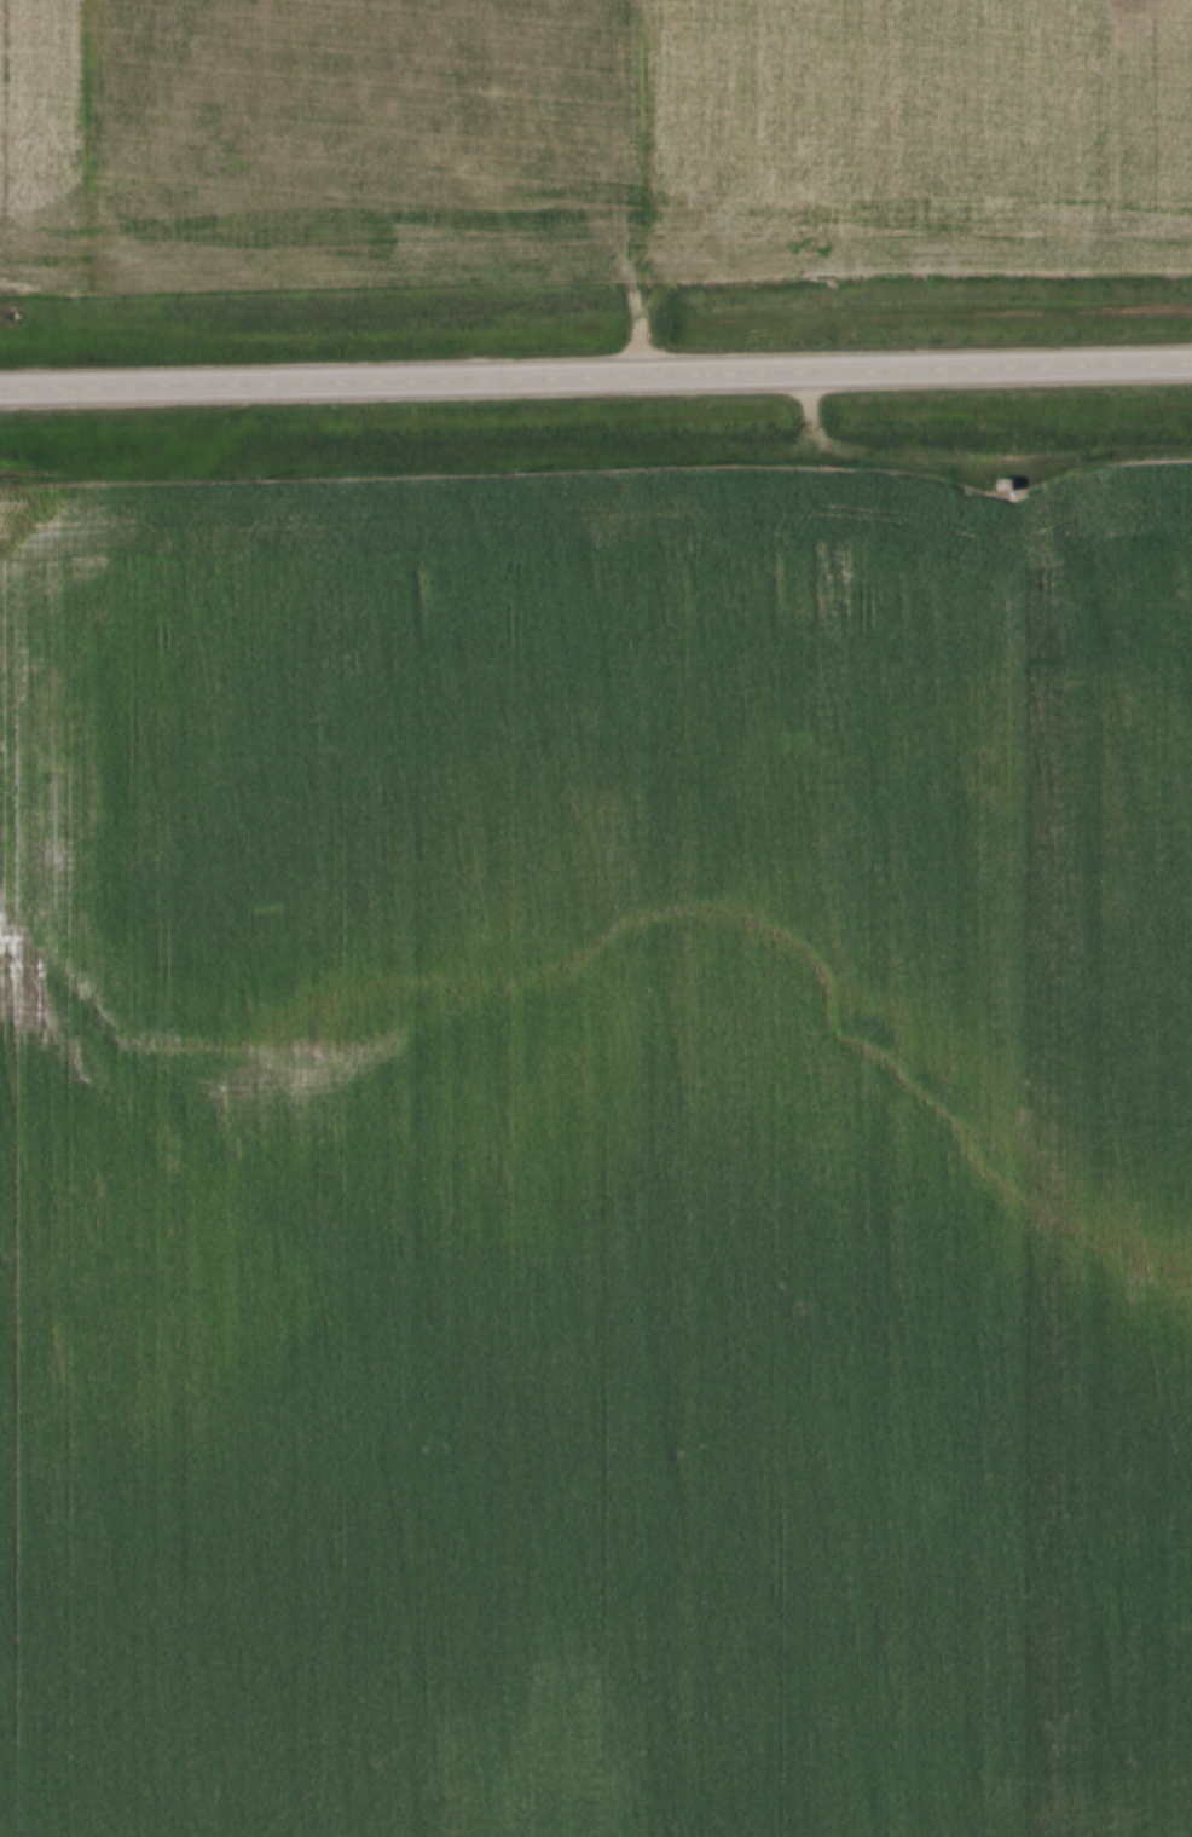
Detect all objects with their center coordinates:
road: (595, 395)

